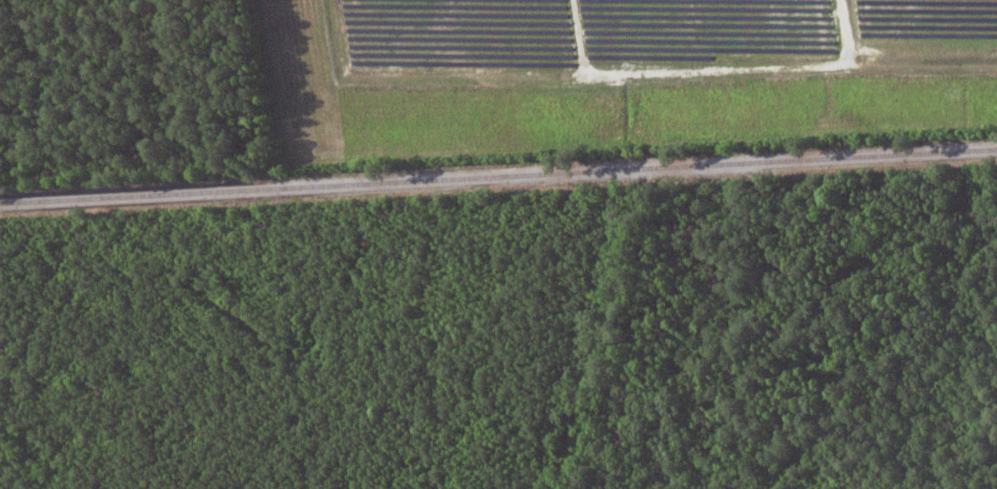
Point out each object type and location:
solar farm: (651, 39)
railway: (498, 176)

